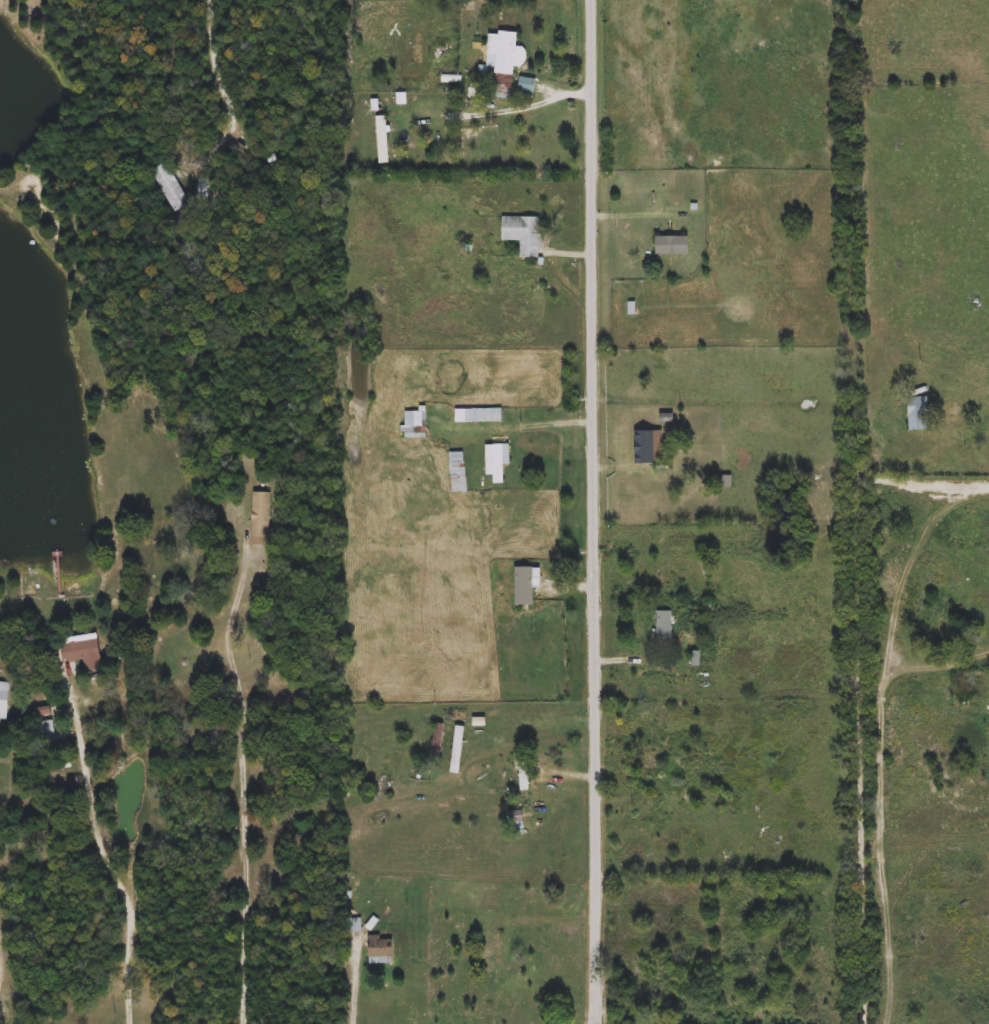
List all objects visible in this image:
building: (502, 52)
road: (219, 88)
road: (526, 106)
building: (382, 139)
building: (170, 186)
building: (524, 234)
building: (672, 245)
building: (918, 413)
building: (478, 415)
road: (548, 422)
building: (653, 447)
building: (497, 461)
road: (623, 465)
building: (457, 472)
road: (923, 479)
road: (594, 512)
road: (859, 512)
building: (262, 518)
building: (527, 583)
building: (664, 626)
building: (84, 651)
building: (5, 700)
building: (479, 721)
building: (458, 749)
building: (645, 766)
building: (523, 772)
road: (242, 796)
road: (565, 818)
building: (515, 820)
road: (108, 861)
road: (559, 915)
building: (353, 925)
building: (381, 948)
road: (358, 986)

